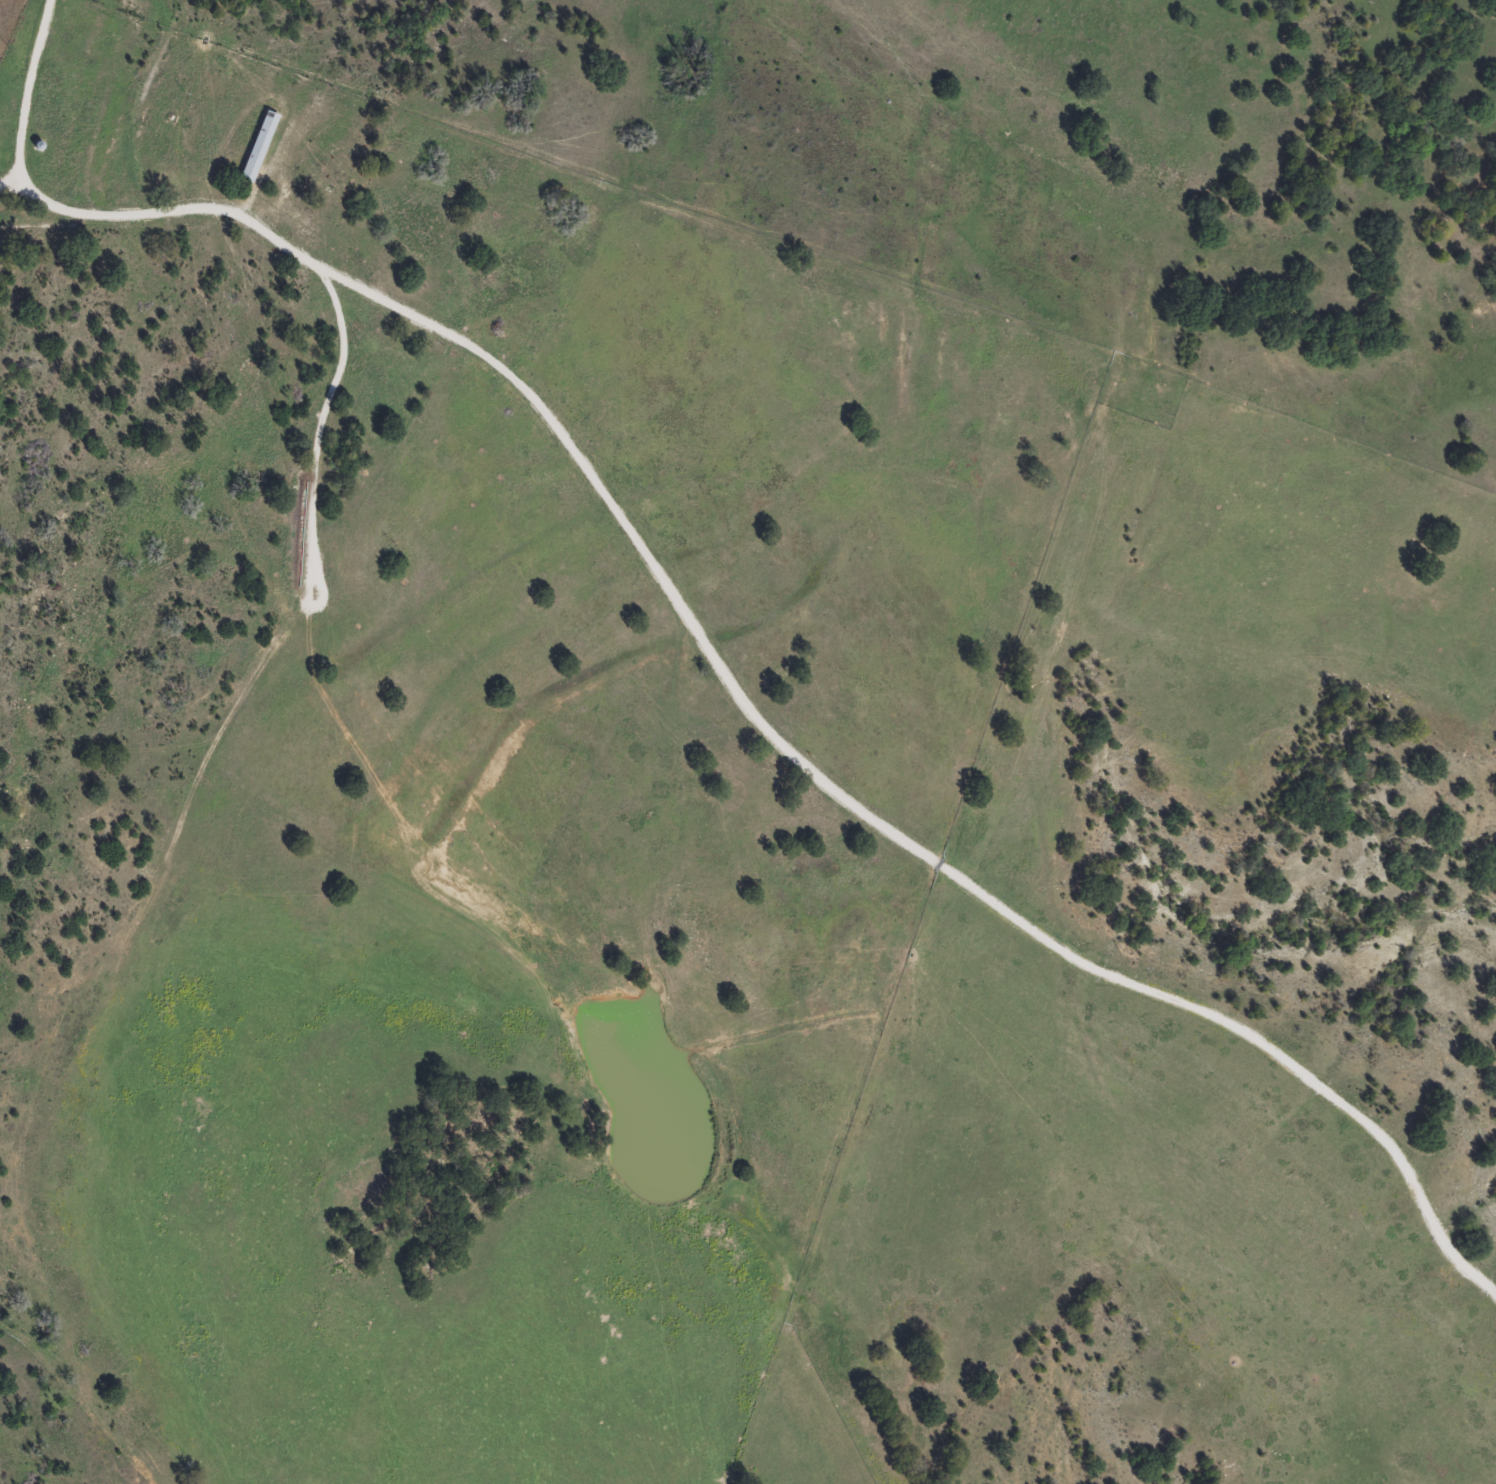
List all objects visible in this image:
road: (33, 92)
building: (260, 146)

